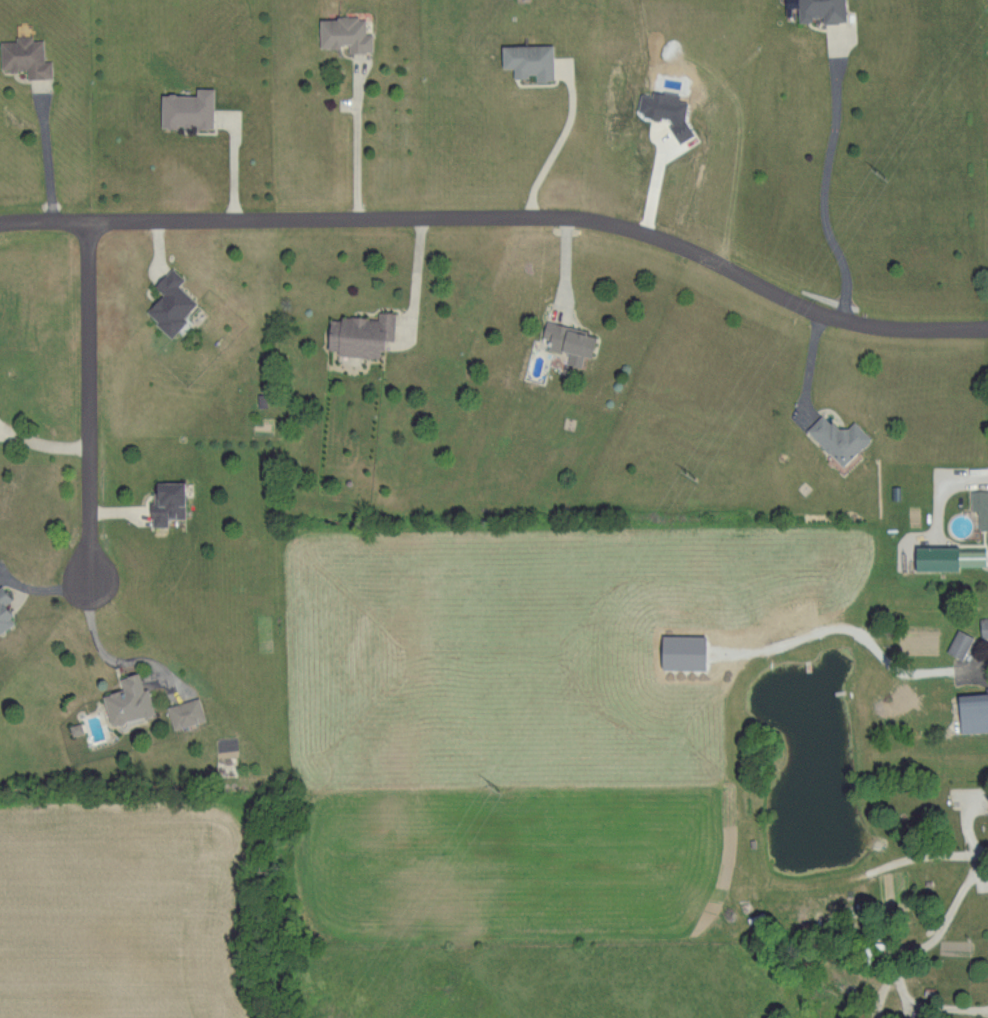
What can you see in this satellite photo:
building: (816, 9)
building: (339, 32)
building: (22, 58)
building: (522, 58)
building: (181, 107)
building: (663, 110)
road: (359, 137)
road: (547, 148)
road: (44, 150)
power tower: (890, 168)
road: (822, 177)
building: (986, 186)
road: (504, 217)
road: (567, 268)
road: (417, 276)
building: (164, 302)
building: (354, 333)
building: (564, 340)
road: (89, 399)
building: (834, 437)
road: (43, 441)
power tower: (701, 471)
building: (161, 502)
building: (978, 507)
building: (940, 557)
building: (2, 595)
building: (2, 619)
building: (981, 624)
building: (955, 643)
road: (97, 649)
road: (984, 664)
building: (121, 700)
building: (970, 711)
building: (180, 712)
power tower: (505, 784)
building: (986, 814)
road: (965, 826)
road: (918, 853)
road: (981, 855)
road: (945, 914)
road: (948, 1006)

